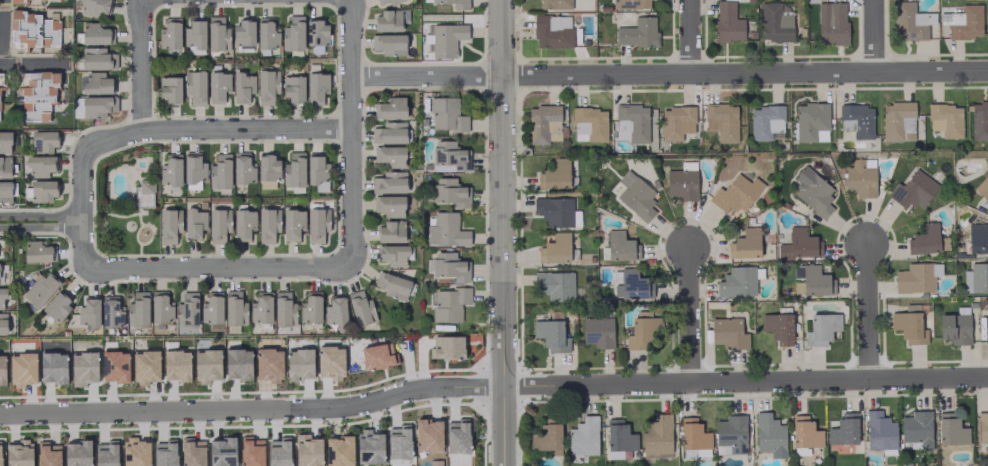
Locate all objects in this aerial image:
building: (24, 0)
building: (380, 1)
building: (393, 1)
building: (455, 3)
building: (553, 4)
building: (630, 4)
building: (92, 7)
building: (387, 20)
building: (727, 22)
building: (910, 22)
building: (774, 23)
building: (967, 23)
building: (833, 24)
building: (33, 30)
building: (552, 31)
road: (4, 32)
building: (637, 32)
building: (95, 33)
building: (169, 33)
building: (217, 33)
building: (243, 33)
building: (266, 33)
building: (293, 33)
building: (194, 36)
road: (872, 37)
road: (691, 38)
building: (446, 39)
building: (388, 43)
building: (97, 58)
road: (34, 65)
road: (143, 66)
road: (669, 76)
building: (96, 82)
building: (194, 86)
building: (217, 86)
building: (242, 86)
building: (266, 86)
building: (316, 87)
building: (293, 88)
building: (170, 89)
building: (37, 95)
building: (97, 106)
building: (390, 108)
building: (447, 114)
building: (945, 119)
building: (979, 120)
building: (721, 121)
building: (855, 121)
building: (897, 121)
building: (631, 122)
building: (676, 122)
building: (766, 122)
building: (811, 122)
building: (544, 124)
building: (589, 124)
road: (219, 131)
road: (352, 132)
building: (388, 133)
building: (42, 141)
building: (4, 142)
building: (389, 155)
building: (449, 156)
building: (40, 165)
building: (4, 166)
building: (268, 167)
building: (242, 168)
building: (193, 169)
building: (293, 169)
building: (170, 170)
building: (219, 171)
building: (317, 172)
building: (556, 174)
building: (860, 179)
building: (389, 182)
building: (266, 184)
building: (684, 184)
building: (983, 188)
building: (913, 190)
building: (5, 191)
building: (40, 191)
building: (144, 192)
building: (451, 192)
building: (813, 192)
building: (635, 195)
building: (734, 195)
building: (388, 205)
road: (82, 207)
building: (554, 210)
road: (41, 222)
building: (194, 223)
building: (292, 223)
building: (218, 224)
building: (243, 224)
building: (267, 224)
building: (316, 224)
building: (169, 225)
building: (446, 230)
building: (391, 231)
road: (502, 233)
building: (977, 237)
building: (924, 240)
building: (801, 242)
building: (745, 244)
building: (620, 245)
building: (555, 250)
building: (36, 251)
building: (394, 254)
building: (449, 266)
road: (220, 268)
building: (979, 277)
building: (915, 279)
building: (738, 282)
building: (816, 282)
building: (391, 284)
building: (634, 285)
building: (557, 286)
building: (40, 288)
building: (2, 295)
building: (449, 304)
building: (160, 306)
building: (261, 306)
building: (56, 307)
building: (310, 307)
building: (211, 308)
building: (234, 308)
building: (360, 308)
building: (137, 309)
building: (283, 309)
building: (187, 310)
road: (867, 311)
building: (111, 312)
building: (335, 312)
building: (88, 313)
road: (690, 316)
building: (2, 323)
building: (778, 327)
building: (908, 327)
building: (954, 328)
building: (821, 329)
building: (598, 331)
building: (643, 332)
building: (728, 334)
building: (551, 335)
building: (985, 335)
building: (446, 347)
building: (377, 356)
building: (330, 361)
building: (237, 363)
building: (299, 363)
building: (175, 364)
building: (206, 364)
building: (267, 364)
building: (114, 365)
building: (52, 366)
building: (145, 366)
building: (21, 367)
building: (82, 367)
building: (2, 369)
road: (745, 381)
road: (252, 408)
building: (917, 428)
building: (982, 428)
building: (843, 430)
building: (879, 431)
building: (804, 432)
building: (951, 432)
building: (657, 434)
building: (693, 434)
building: (730, 434)
building: (426, 435)
building: (769, 435)
building: (547, 436)
building: (456, 438)
building: (583, 438)
building: (619, 439)
building: (398, 443)
building: (370, 447)
building: (339, 450)
building: (308, 451)
building: (222, 452)
building: (251, 452)
building: (695, 452)
building: (77, 453)
building: (136, 453)
building: (192, 453)
building: (278, 453)
building: (17, 454)
building: (47, 455)
building: (106, 455)
building: (165, 455)
building: (0, 458)

